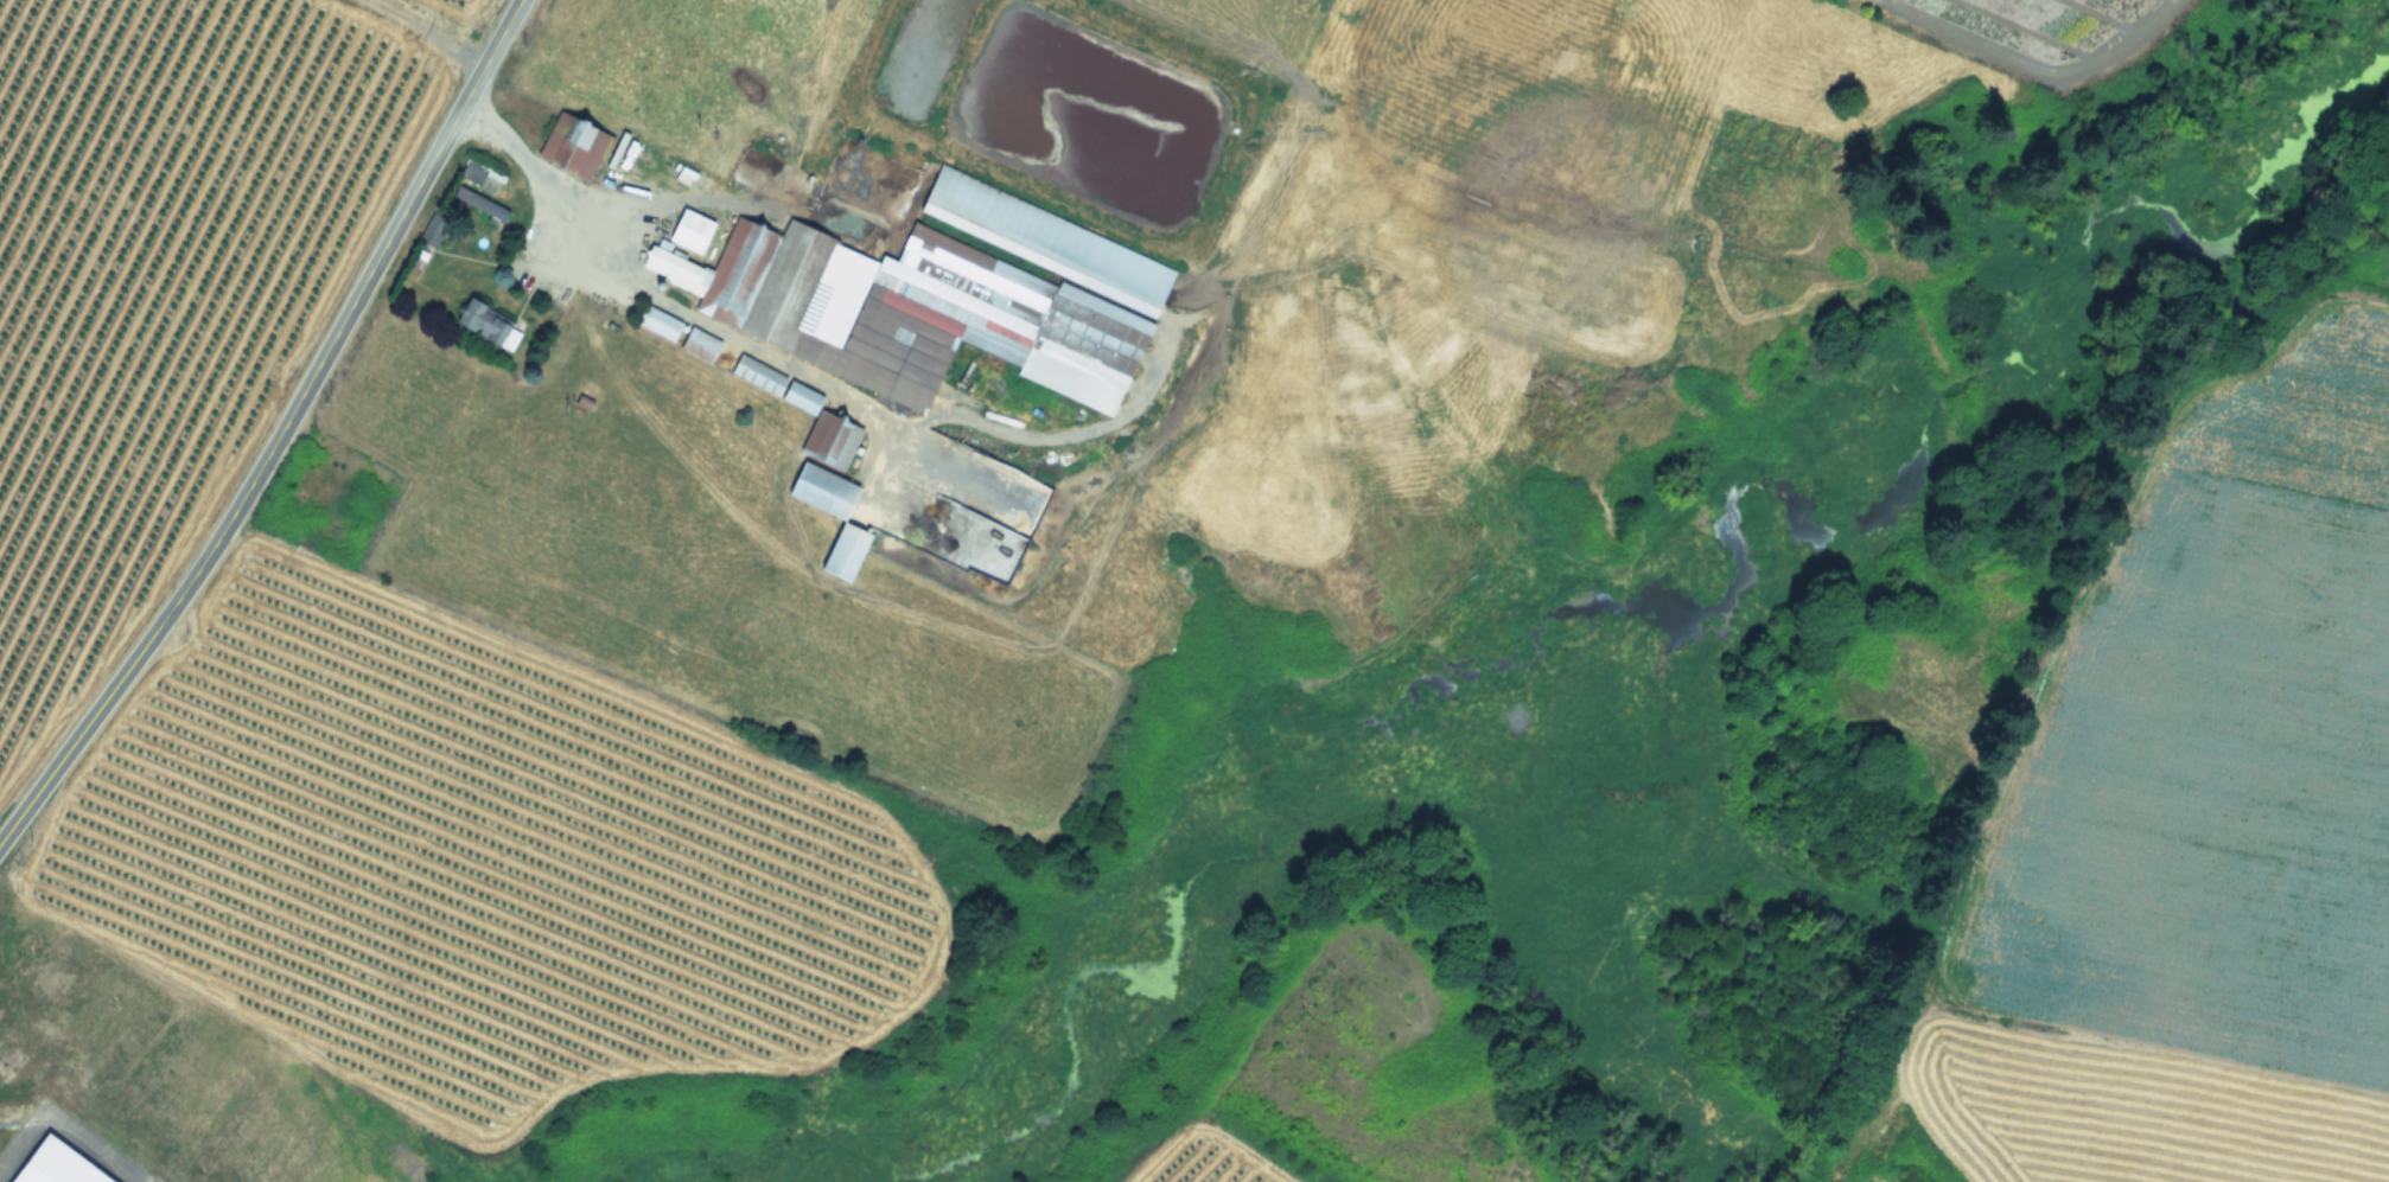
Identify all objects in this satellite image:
crop: (2045, 32)
building: (574, 142)
building: (480, 174)
building: (479, 203)
building: (690, 230)
building: (433, 236)
crop: (157, 270)
road: (657, 294)
building: (937, 296)
building: (480, 320)
building: (657, 322)
building: (697, 344)
building: (775, 383)
road: (279, 433)
building: (830, 439)
building: (363, 492)
building: (840, 518)
crop: (504, 803)
crop: (2171, 817)
building: (14, 964)
building: (0, 1061)
crop: (1332, 1091)
building: (14, 1103)
road: (71, 1135)
road: (23, 1145)
building: (55, 1165)

